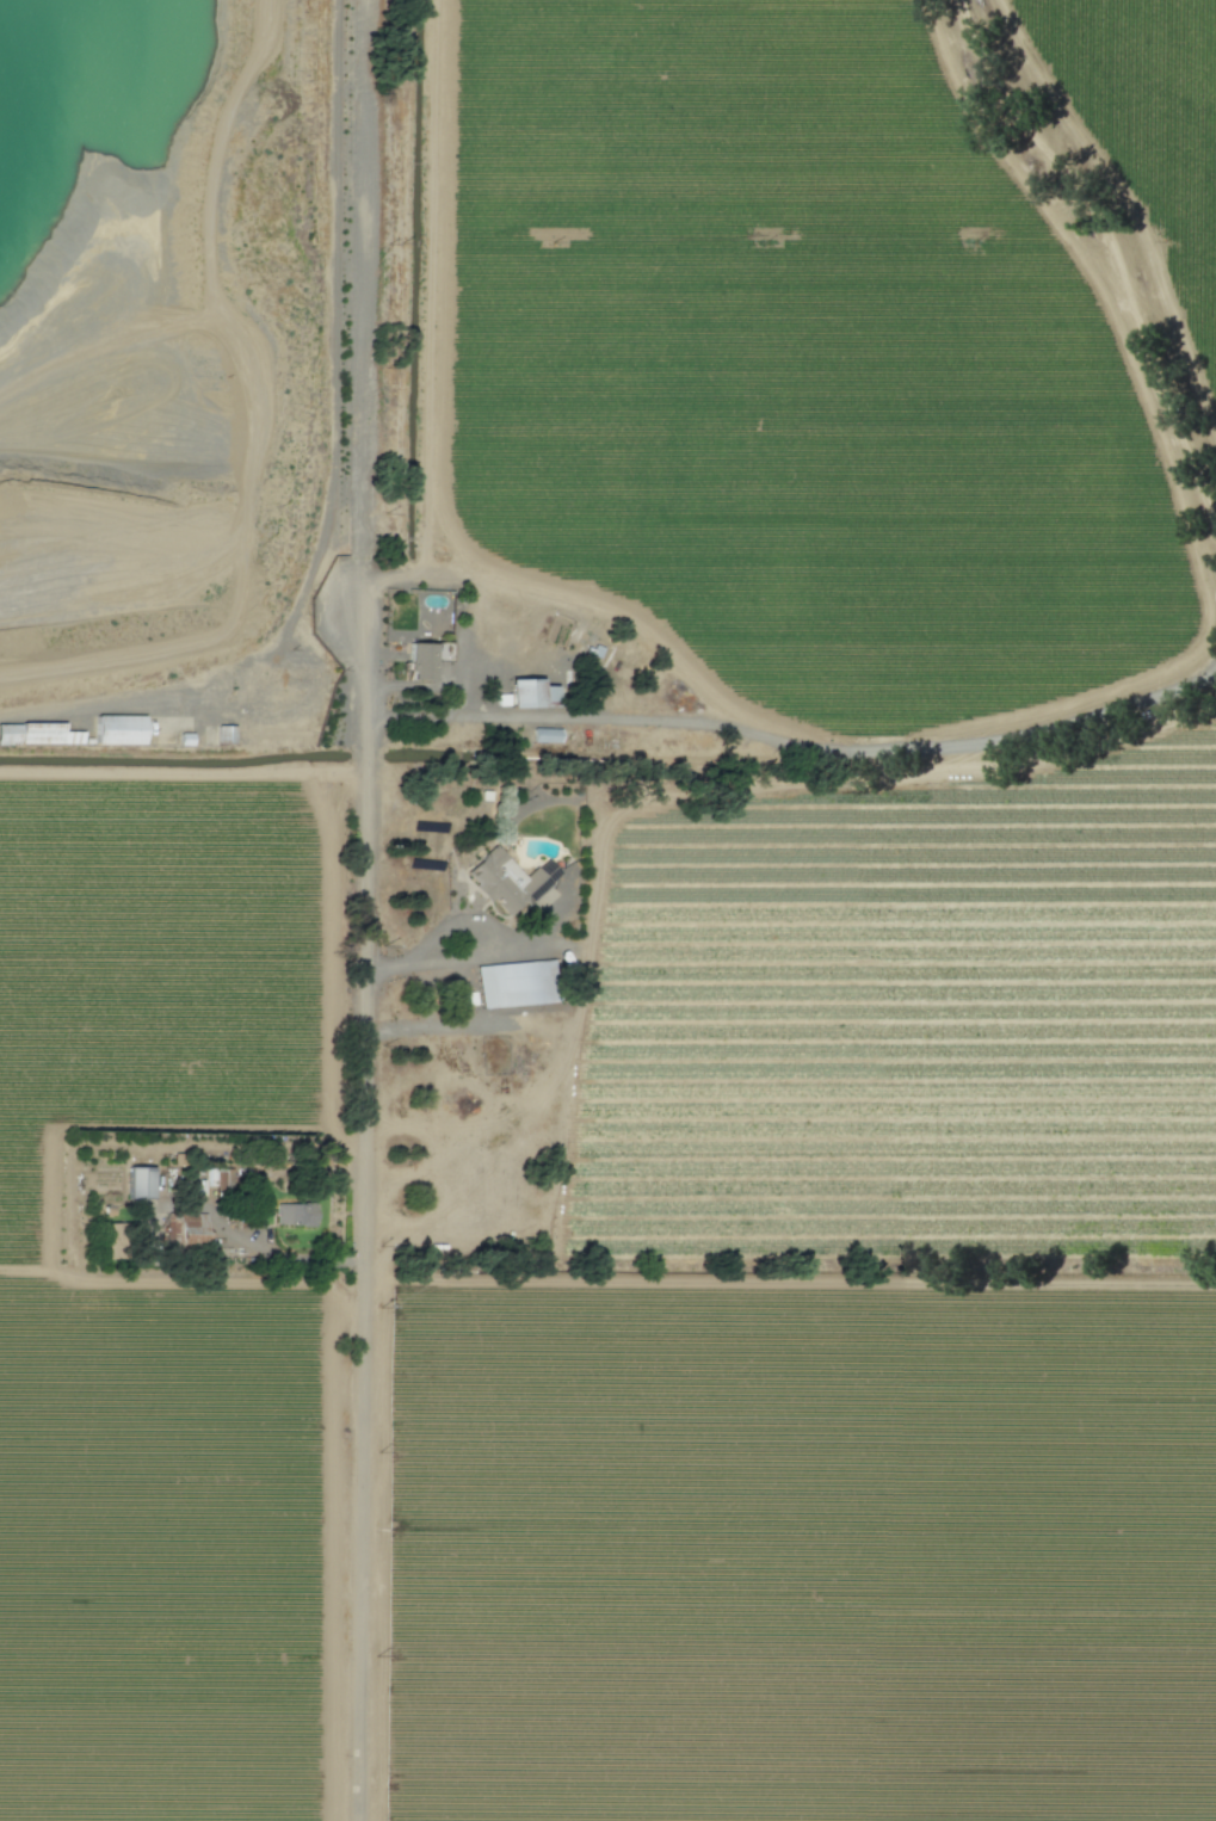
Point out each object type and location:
quarry: (126, 356)
road: (363, 641)
building: (422, 661)
building: (532, 693)
building: (121, 729)
building: (227, 734)
building: (548, 735)
road: (772, 737)
building: (510, 879)
road: (457, 957)
building: (514, 984)
building: (142, 1183)
building: (296, 1215)
building: (184, 1229)
road: (284, 1258)
road: (363, 1276)

